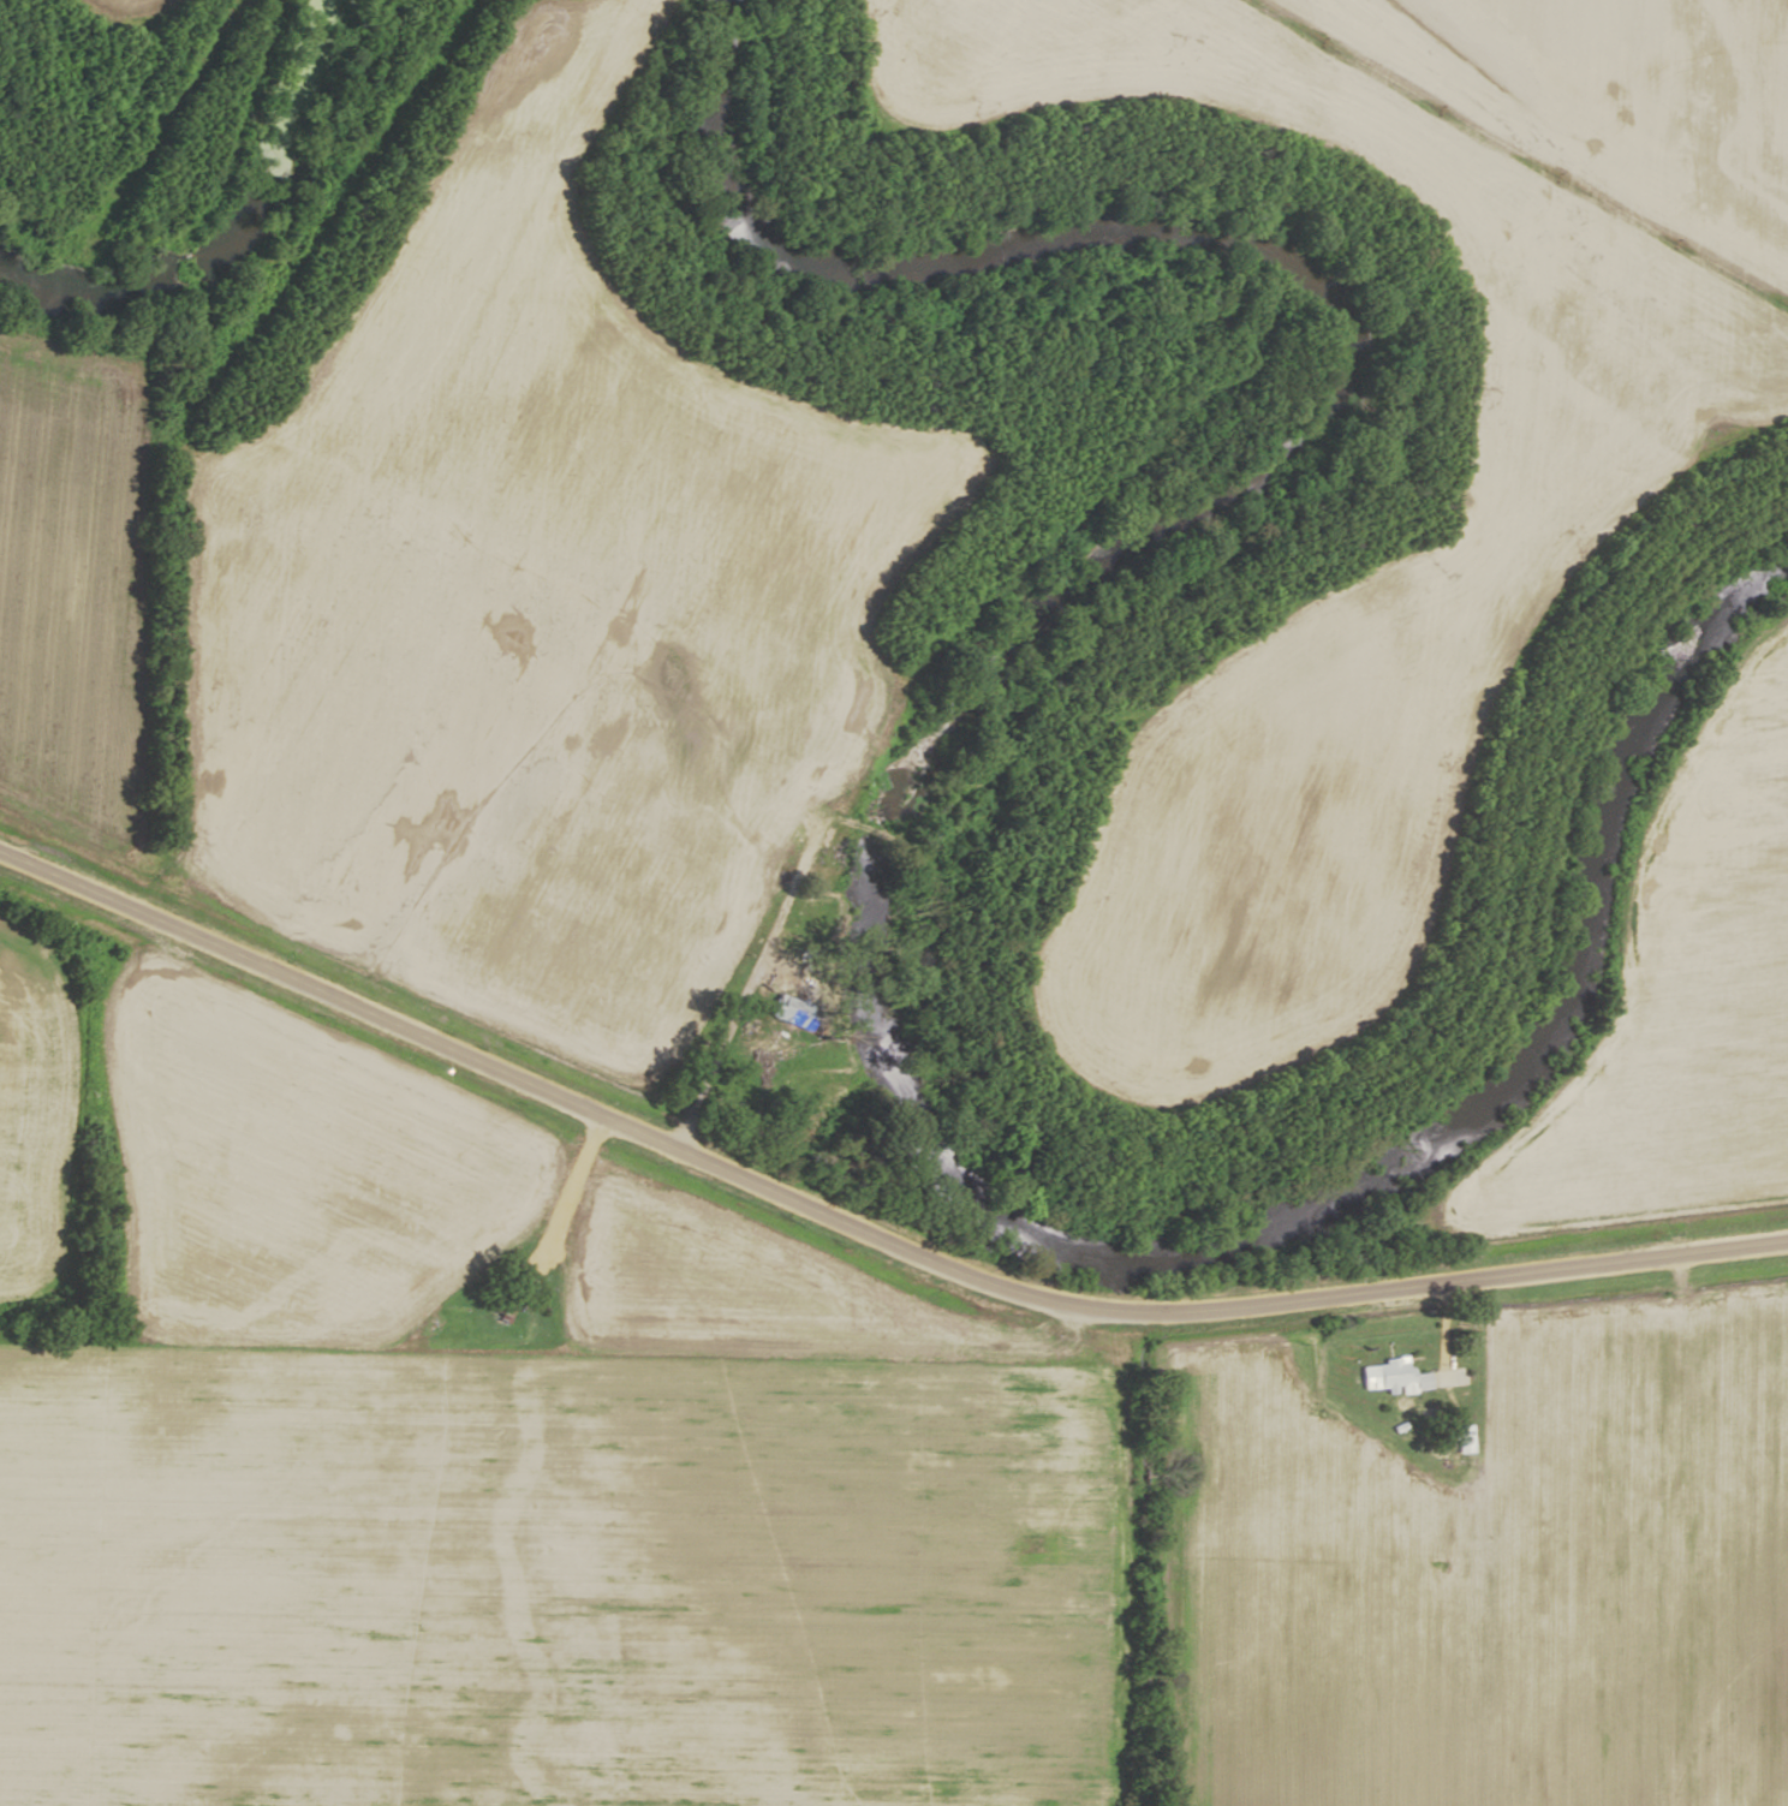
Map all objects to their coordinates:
road: (1557, 130)
road: (775, 906)
road: (560, 1196)
road: (862, 1234)
building: (1391, 1375)

